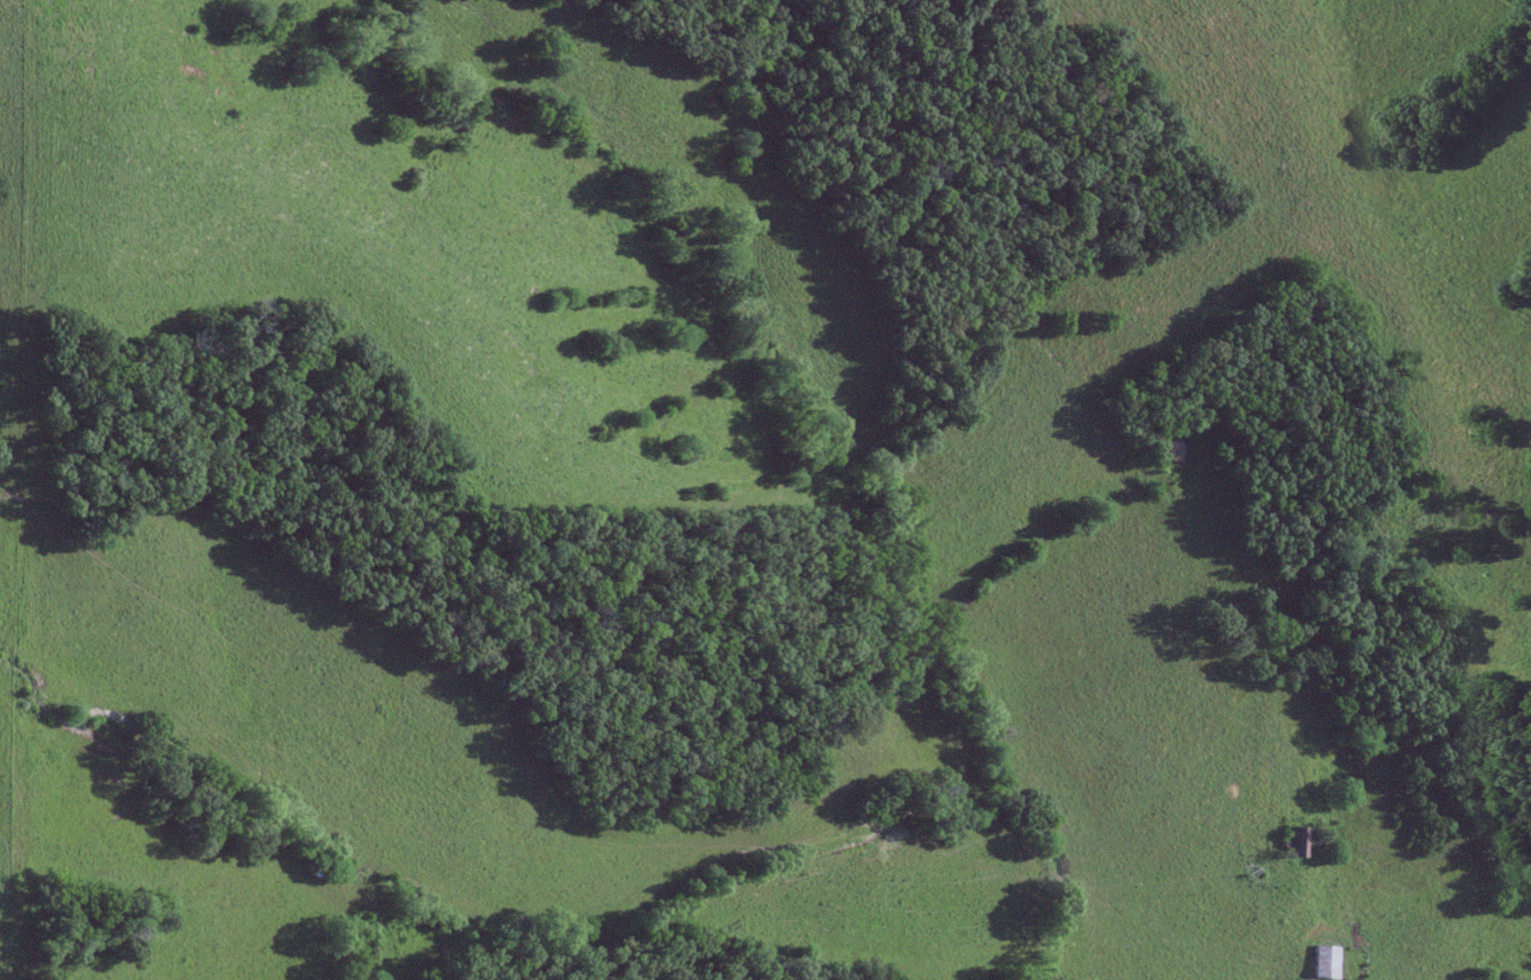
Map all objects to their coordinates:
building: (1293, 841)
building: (1324, 962)

